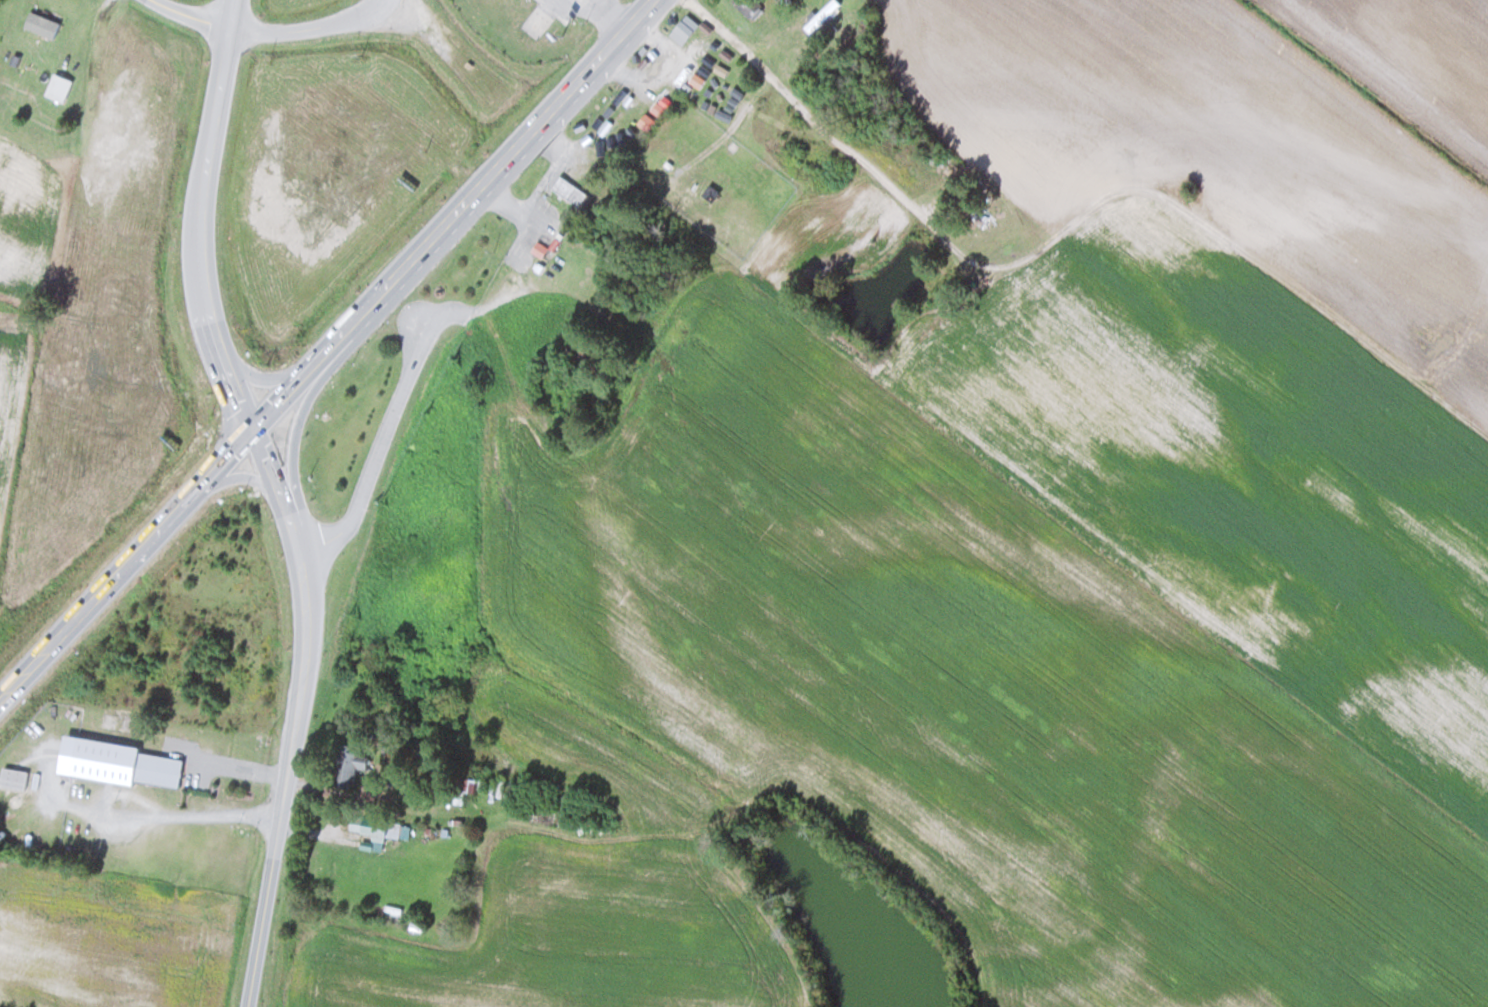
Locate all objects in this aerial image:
road: (596, 2)
building: (748, 7)
road: (606, 8)
building: (821, 15)
building: (40, 24)
road: (269, 31)
road: (201, 216)
road: (454, 216)
road: (268, 377)
traffic signals: (251, 429)
road: (296, 432)
road: (382, 450)
road: (248, 477)
road: (126, 565)
road: (301, 713)
building: (117, 763)
building: (347, 766)
building: (13, 779)
building: (370, 826)

